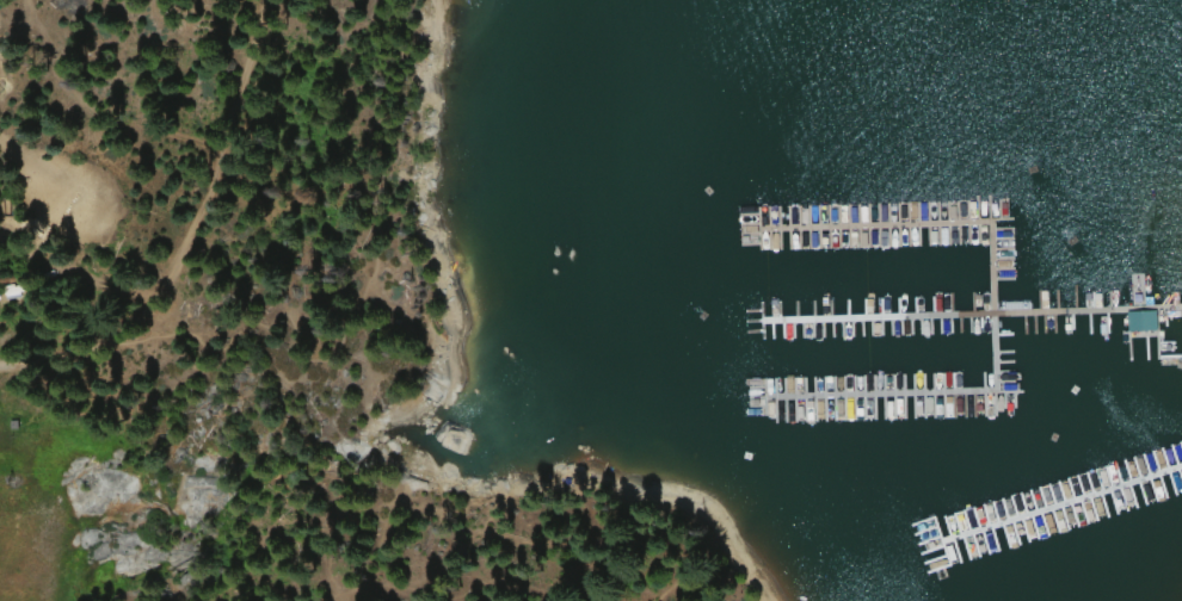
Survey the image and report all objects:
road: (1156, 106)
pier: (838, 191)
pier: (849, 202)
road: (187, 233)
building: (967, 267)
pier: (811, 273)
road: (365, 289)
building: (1134, 322)
pier: (788, 380)
pier: (924, 465)
road: (408, 516)
road: (442, 588)

